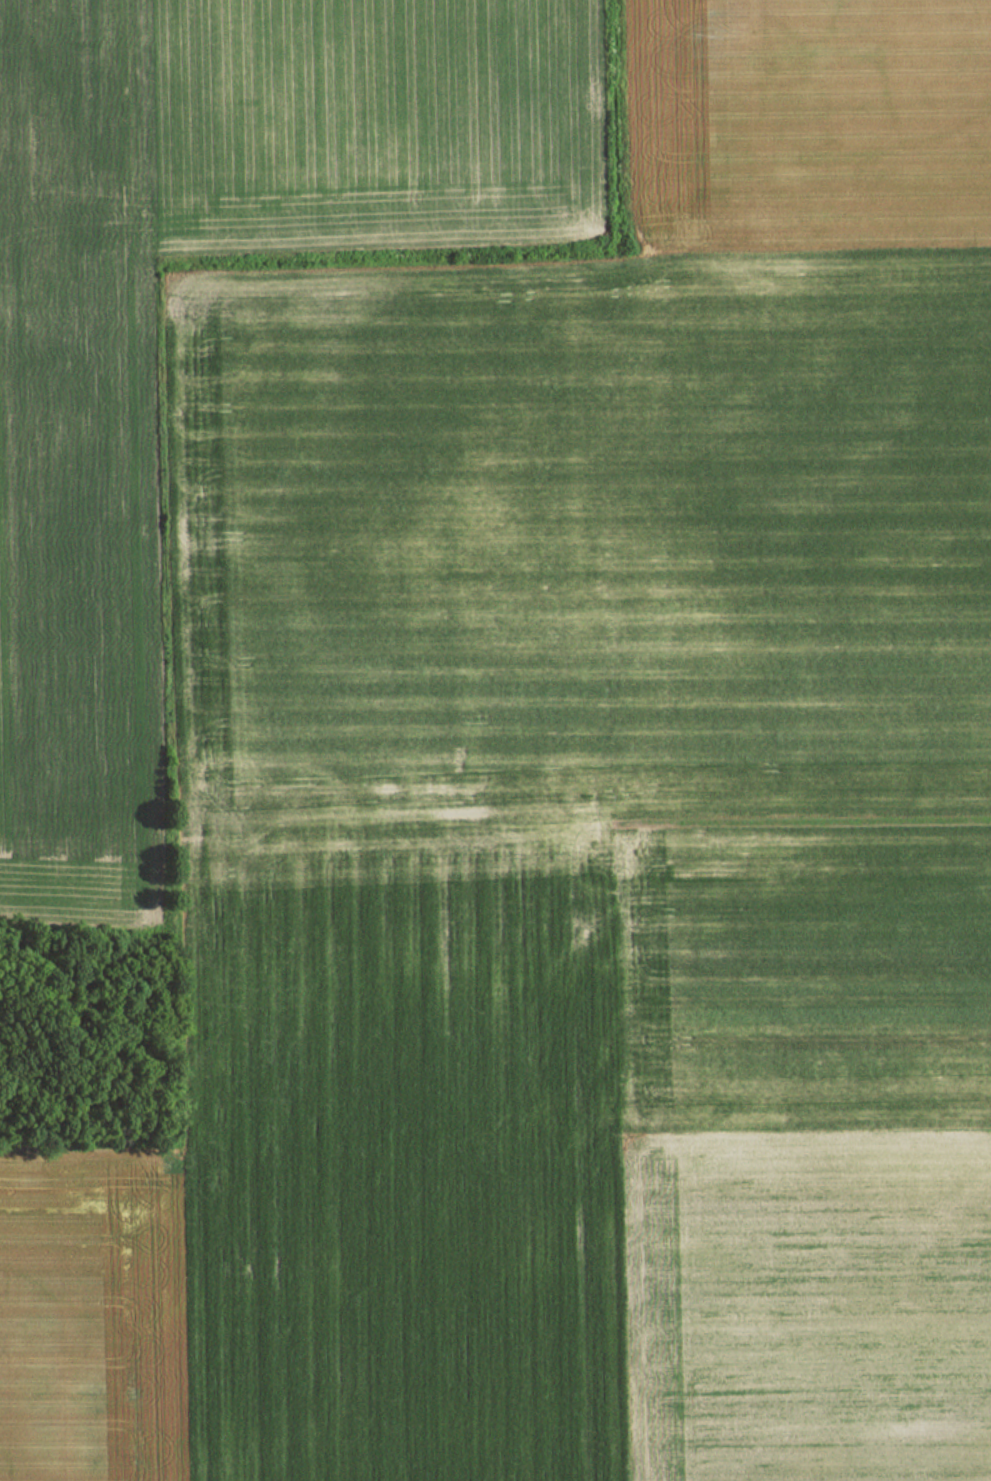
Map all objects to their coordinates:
crop: (80, 591)
crop: (572, 827)

